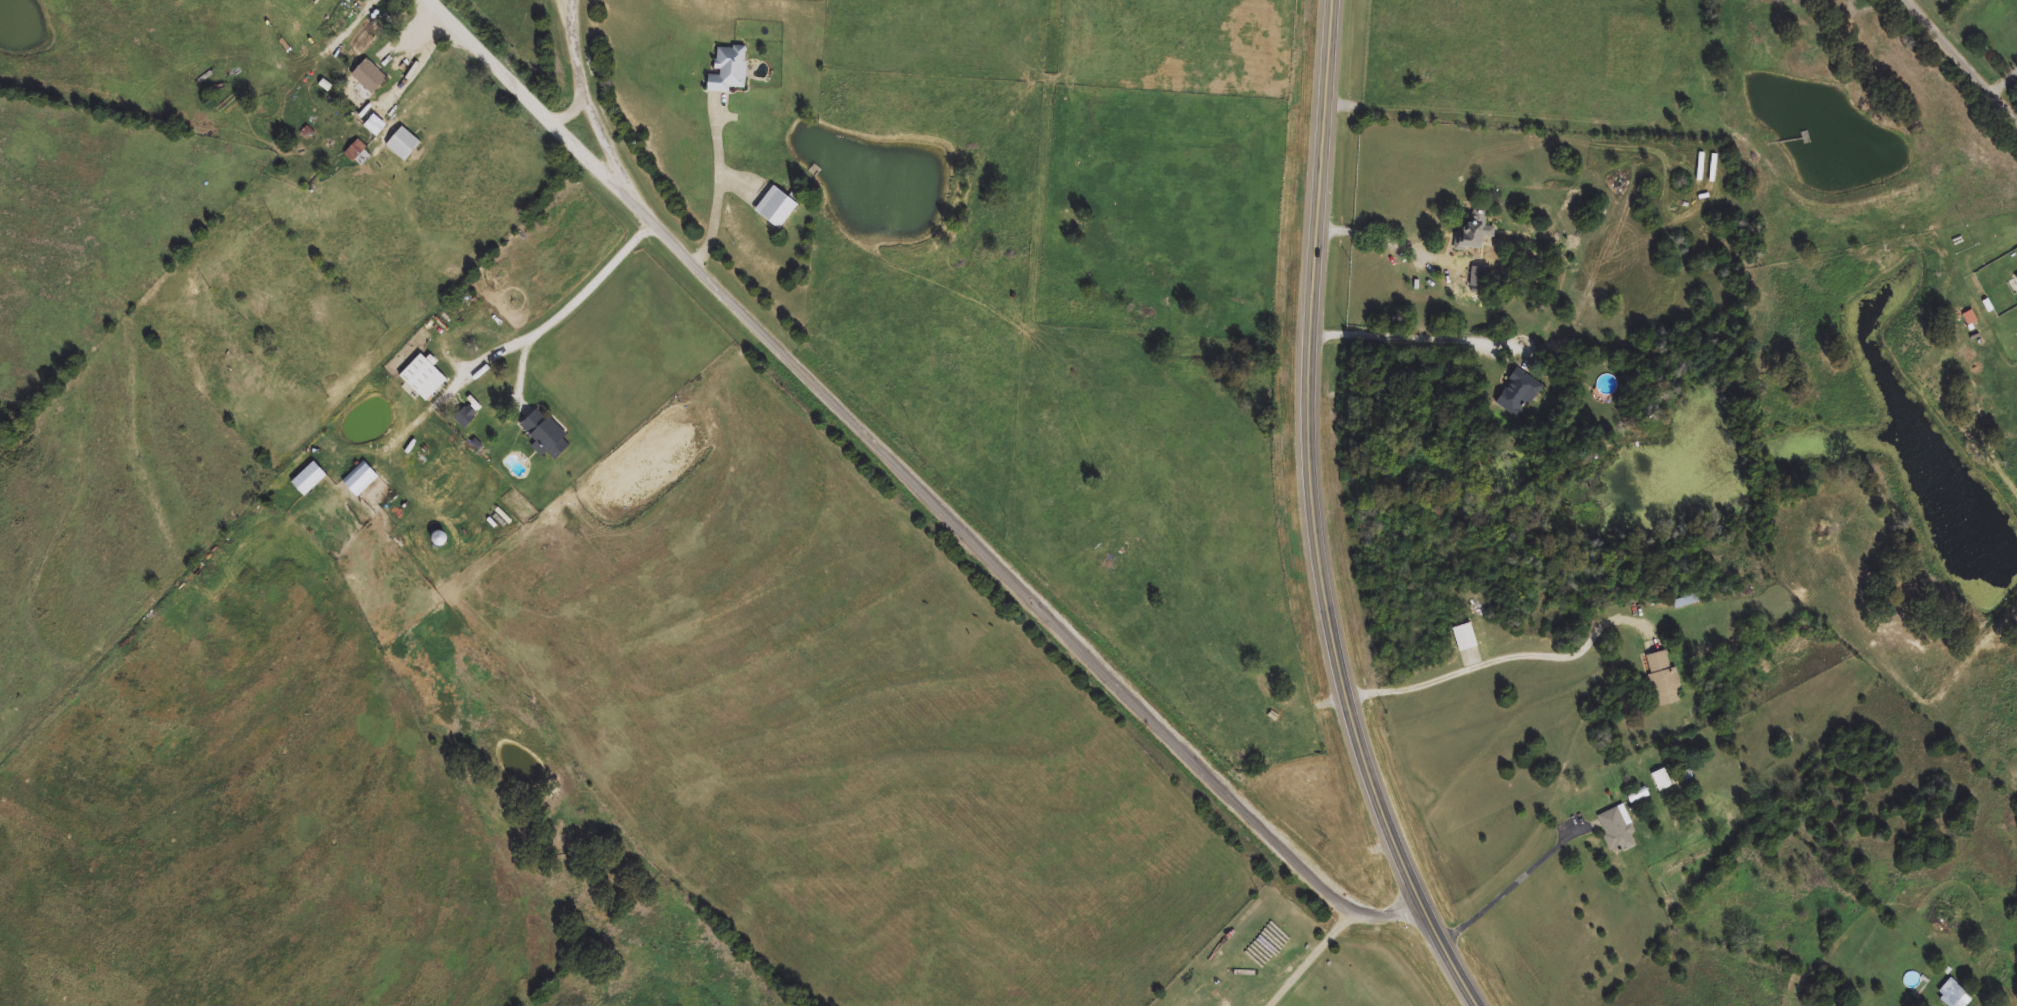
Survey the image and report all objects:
road: (1962, 60)
road: (423, 65)
building: (726, 71)
building: (367, 76)
road: (594, 109)
building: (373, 126)
building: (401, 143)
building: (357, 154)
road: (723, 186)
building: (774, 209)
building: (1473, 233)
road: (1402, 247)
building: (1478, 273)
building: (2016, 278)
road: (572, 305)
building: (1969, 318)
road: (1411, 340)
building: (420, 377)
building: (1517, 392)
building: (464, 417)
building: (545, 436)
building: (305, 480)
building: (357, 482)
road: (916, 484)
road: (1317, 520)
building: (1463, 638)
road: (1505, 654)
building: (1663, 680)
building: (1661, 781)
building: (1616, 830)
road: (1517, 879)
road: (1316, 960)
building: (1951, 995)

